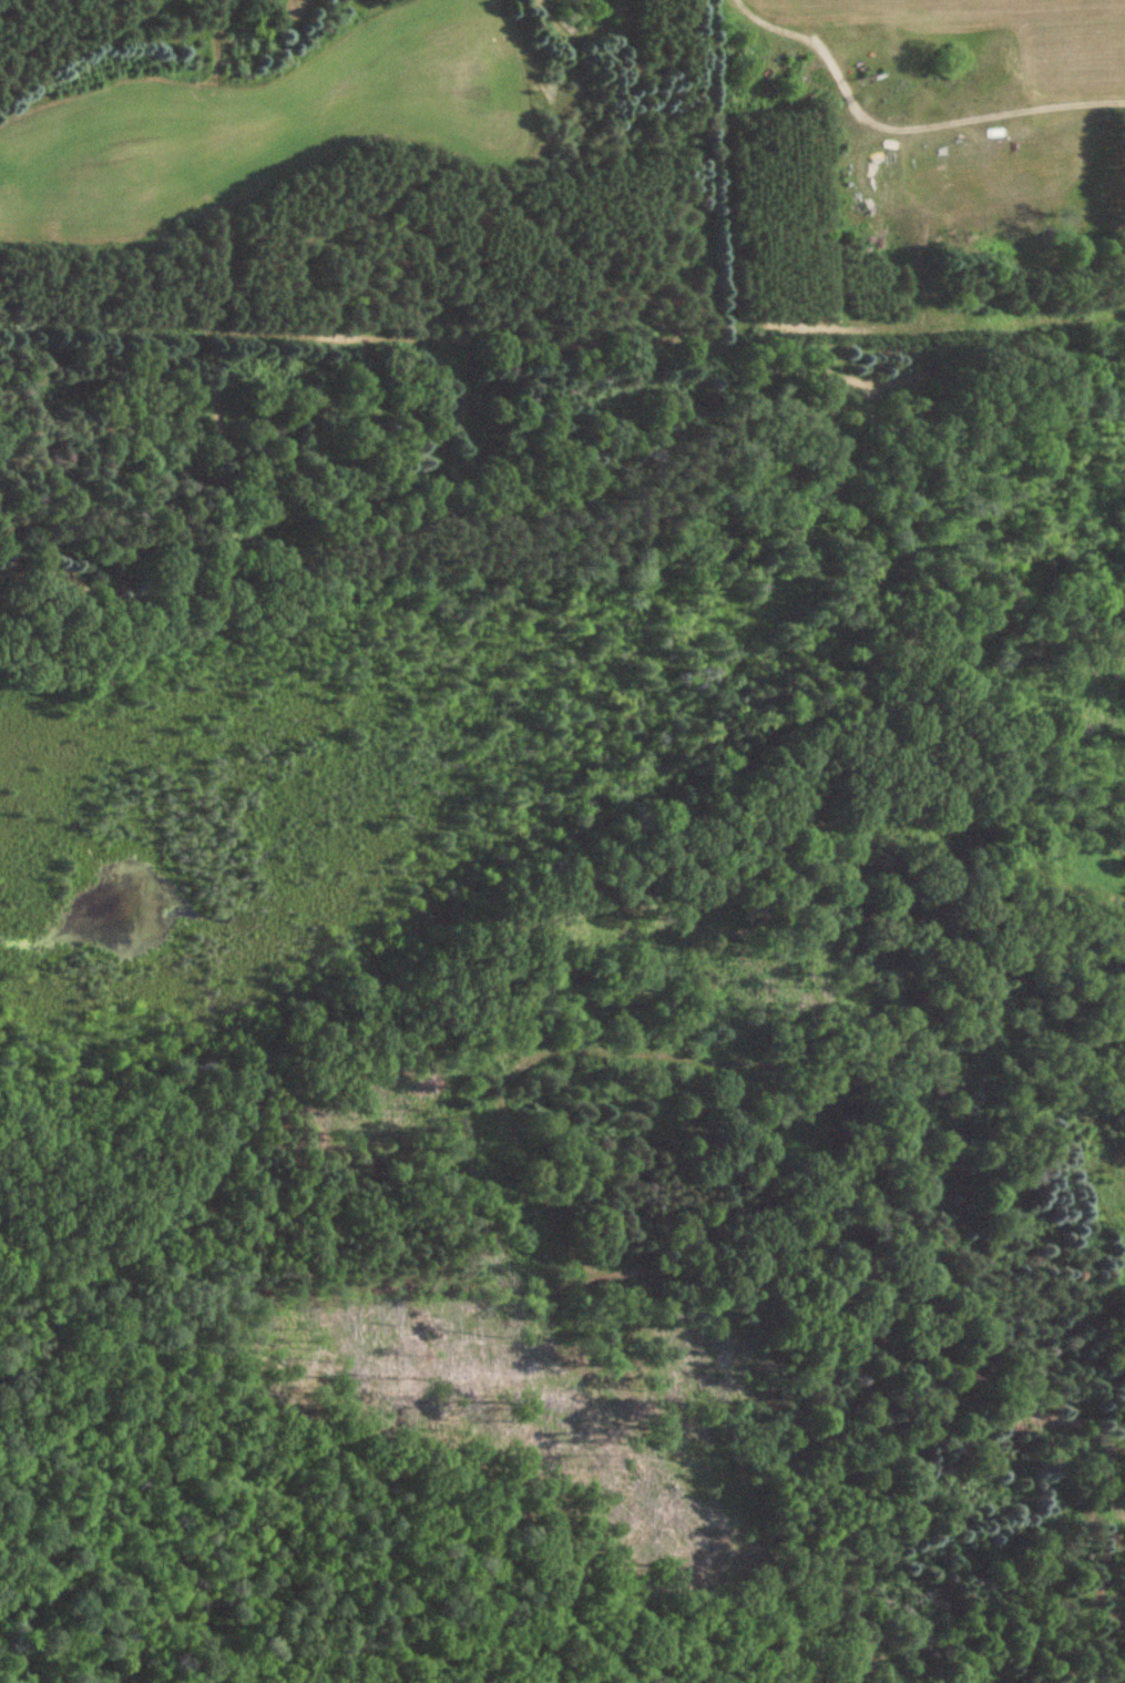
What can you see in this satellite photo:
road: (995, 1503)

